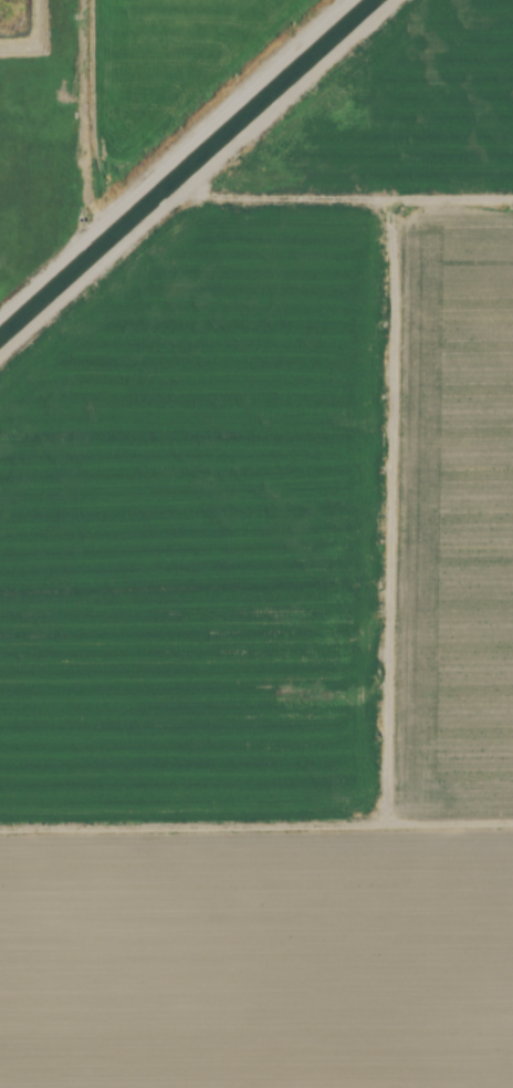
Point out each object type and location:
road: (196, 176)
road: (344, 197)

